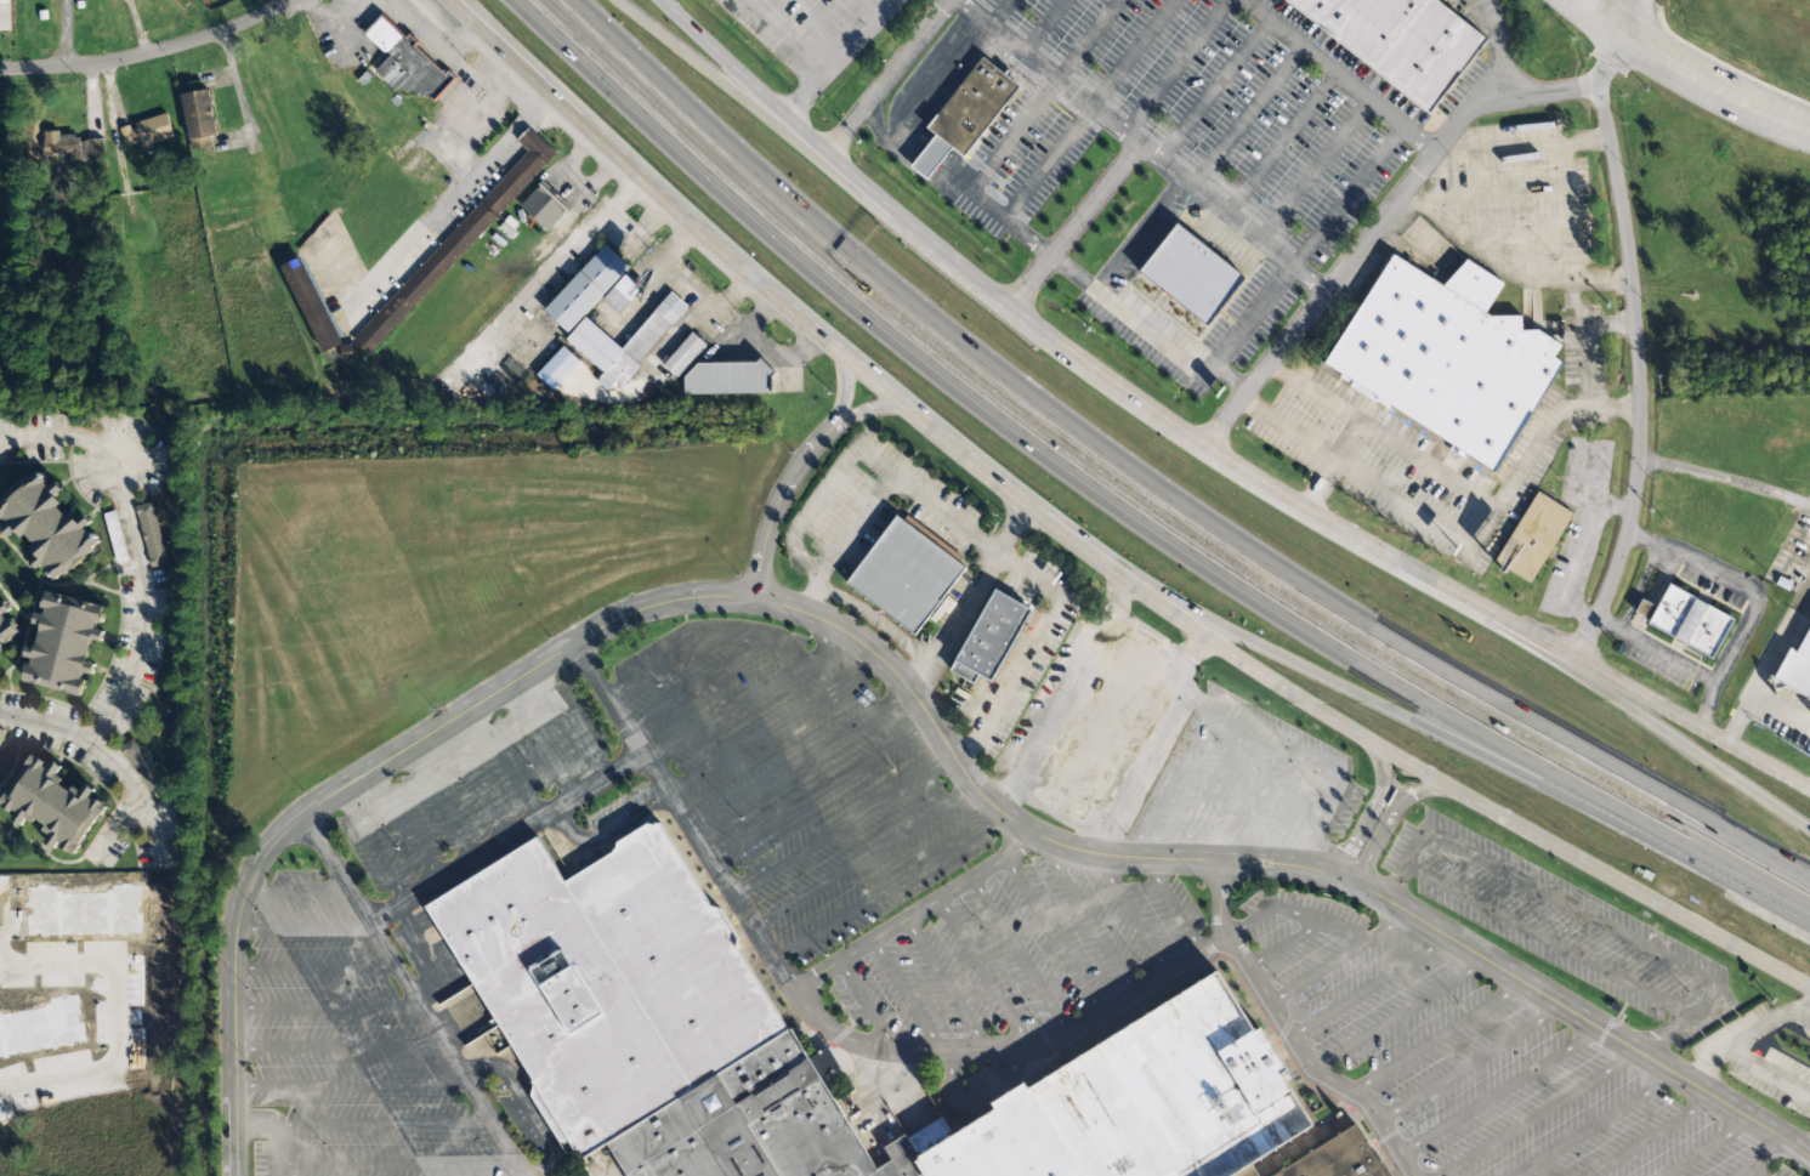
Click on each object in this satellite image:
building: (186, 2)
road: (337, 16)
road: (1600, 19)
road: (1638, 19)
road: (464, 36)
building: (1401, 39)
road: (142, 51)
building: (407, 62)
road: (459, 62)
road: (1700, 80)
road: (755, 113)
building: (969, 113)
building: (200, 117)
road: (1792, 126)
building: (146, 131)
building: (92, 148)
building: (493, 203)
building: (543, 208)
building: (1191, 274)
building: (585, 288)
building: (622, 292)
building: (654, 328)
road: (1633, 347)
building: (685, 354)
building: (1441, 356)
building: (730, 377)
road: (862, 394)
road: (892, 394)
road: (876, 408)
road: (1204, 437)
road: (1153, 485)
road: (796, 502)
road: (1123, 513)
building: (49, 525)
building: (152, 534)
building: (115, 536)
building: (1532, 538)
road: (138, 550)
building: (906, 573)
road: (648, 608)
building: (1685, 620)
building: (8, 626)
building: (1004, 630)
road: (725, 638)
building: (67, 642)
building: (1795, 669)
road: (693, 686)
road: (725, 711)
road: (573, 723)
road: (773, 727)
building: (1, 733)
road: (1676, 733)
road: (539, 745)
road: (1473, 752)
road: (798, 760)
road: (108, 761)
road: (505, 766)
building: (144, 768)
road: (472, 785)
road: (819, 792)
building: (56, 803)
road: (438, 806)
road: (1372, 809)
road: (1391, 813)
road: (404, 826)
road: (840, 826)
road: (607, 831)
road: (506, 841)
road: (371, 847)
road: (859, 858)
road: (1403, 863)
road: (1589, 863)
road: (295, 888)
road: (885, 888)
road: (1173, 907)
road: (1570, 907)
road: (913, 913)
road: (1131, 916)
road: (1088, 920)
road: (1312, 925)
road: (301, 926)
road: (1051, 934)
road: (1344, 939)
road: (1544, 939)
road: (1017, 954)
road: (426, 956)
road: (1344, 962)
road: (314, 966)
road: (981, 971)
road: (943, 983)
road: (1372, 988)
road: (906, 994)
road: (415, 995)
road: (864, 1004)
road: (327, 1005)
road: (1572, 1010)
road: (1403, 1016)
road: (1680, 1018)
road: (815, 1019)
road: (1287, 1032)
road: (1441, 1040)
building: (656, 1044)
road: (340, 1045)
road: (1470, 1066)
road: (352, 1083)
road: (1502, 1096)
road: (971, 1102)
road: (526, 1103)
road: (1542, 1114)
road: (364, 1124)
road: (1600, 1126)
road: (1657, 1137)
road: (1710, 1148)
building: (1338, 1159)
road: (1770, 1159)
road: (378, 1163)
road: (1752, 1175)

